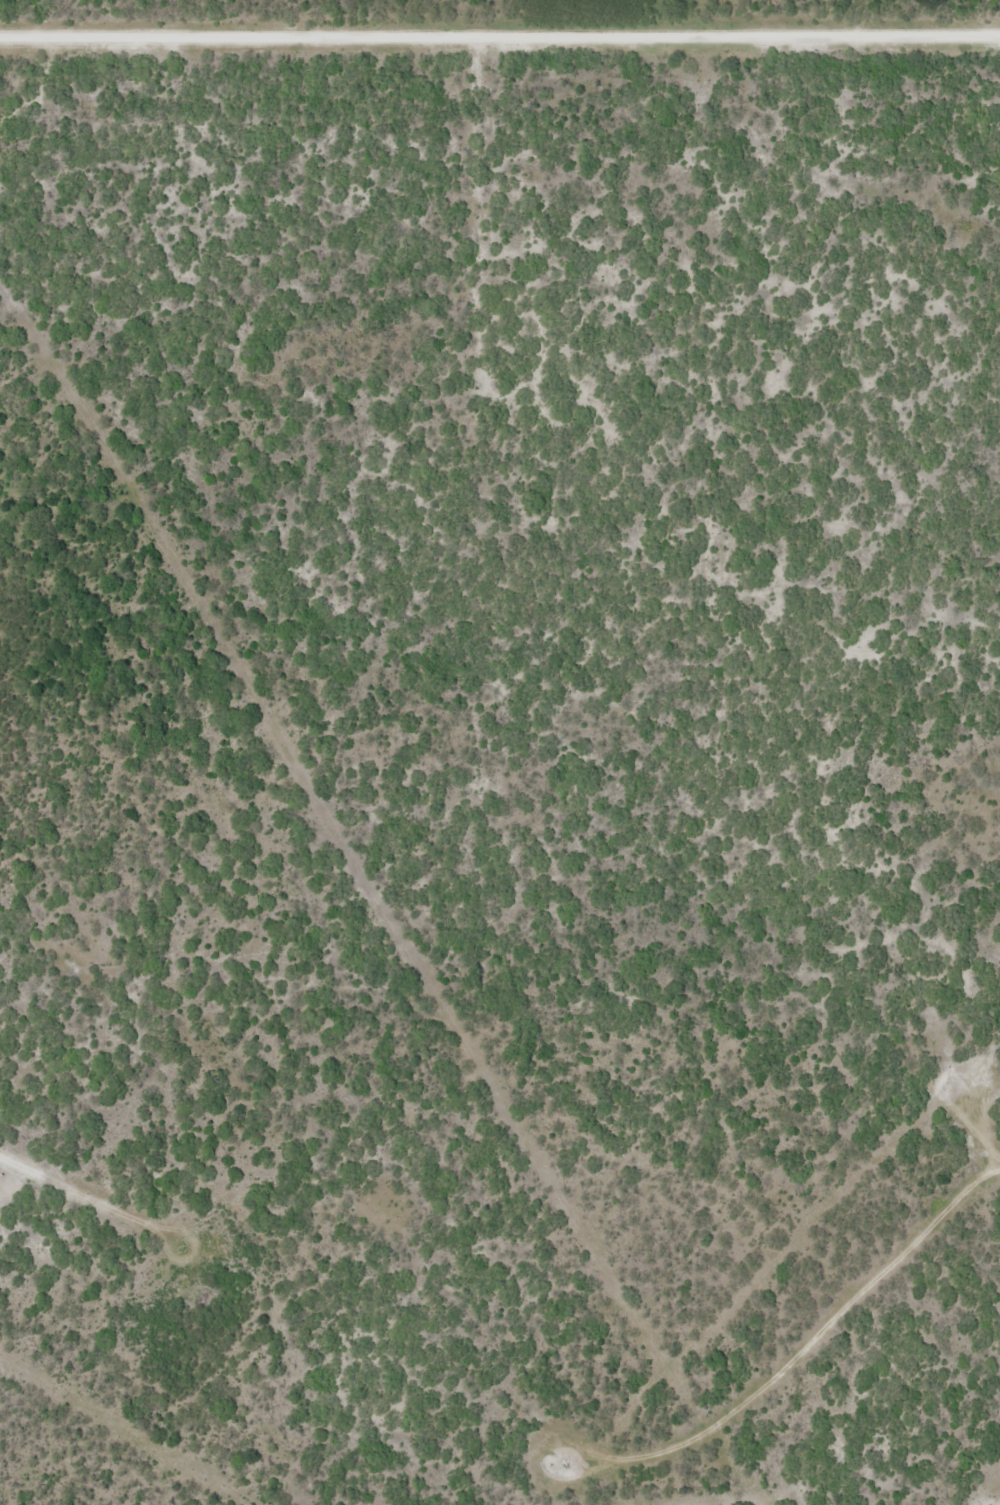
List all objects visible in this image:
road: (500, 40)
road: (816, 1358)

